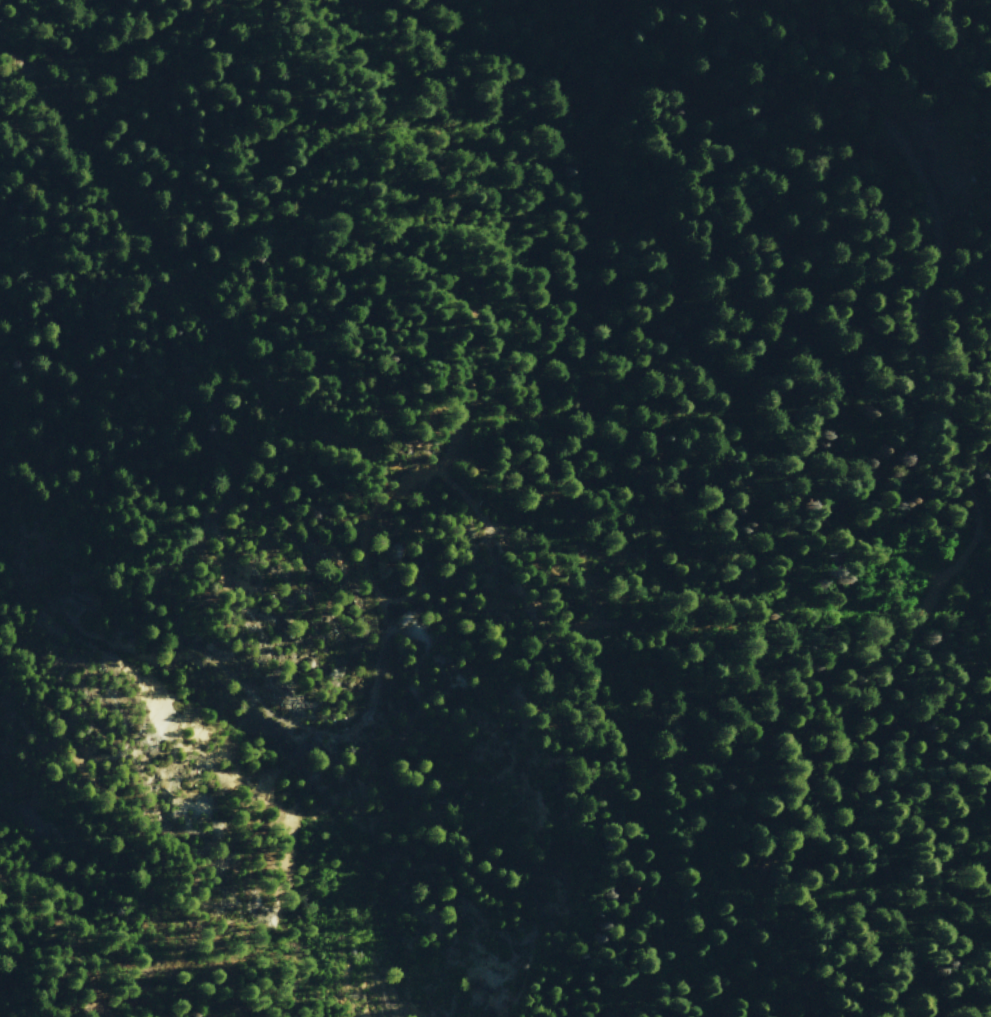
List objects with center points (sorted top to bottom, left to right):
road: (980, 517)

